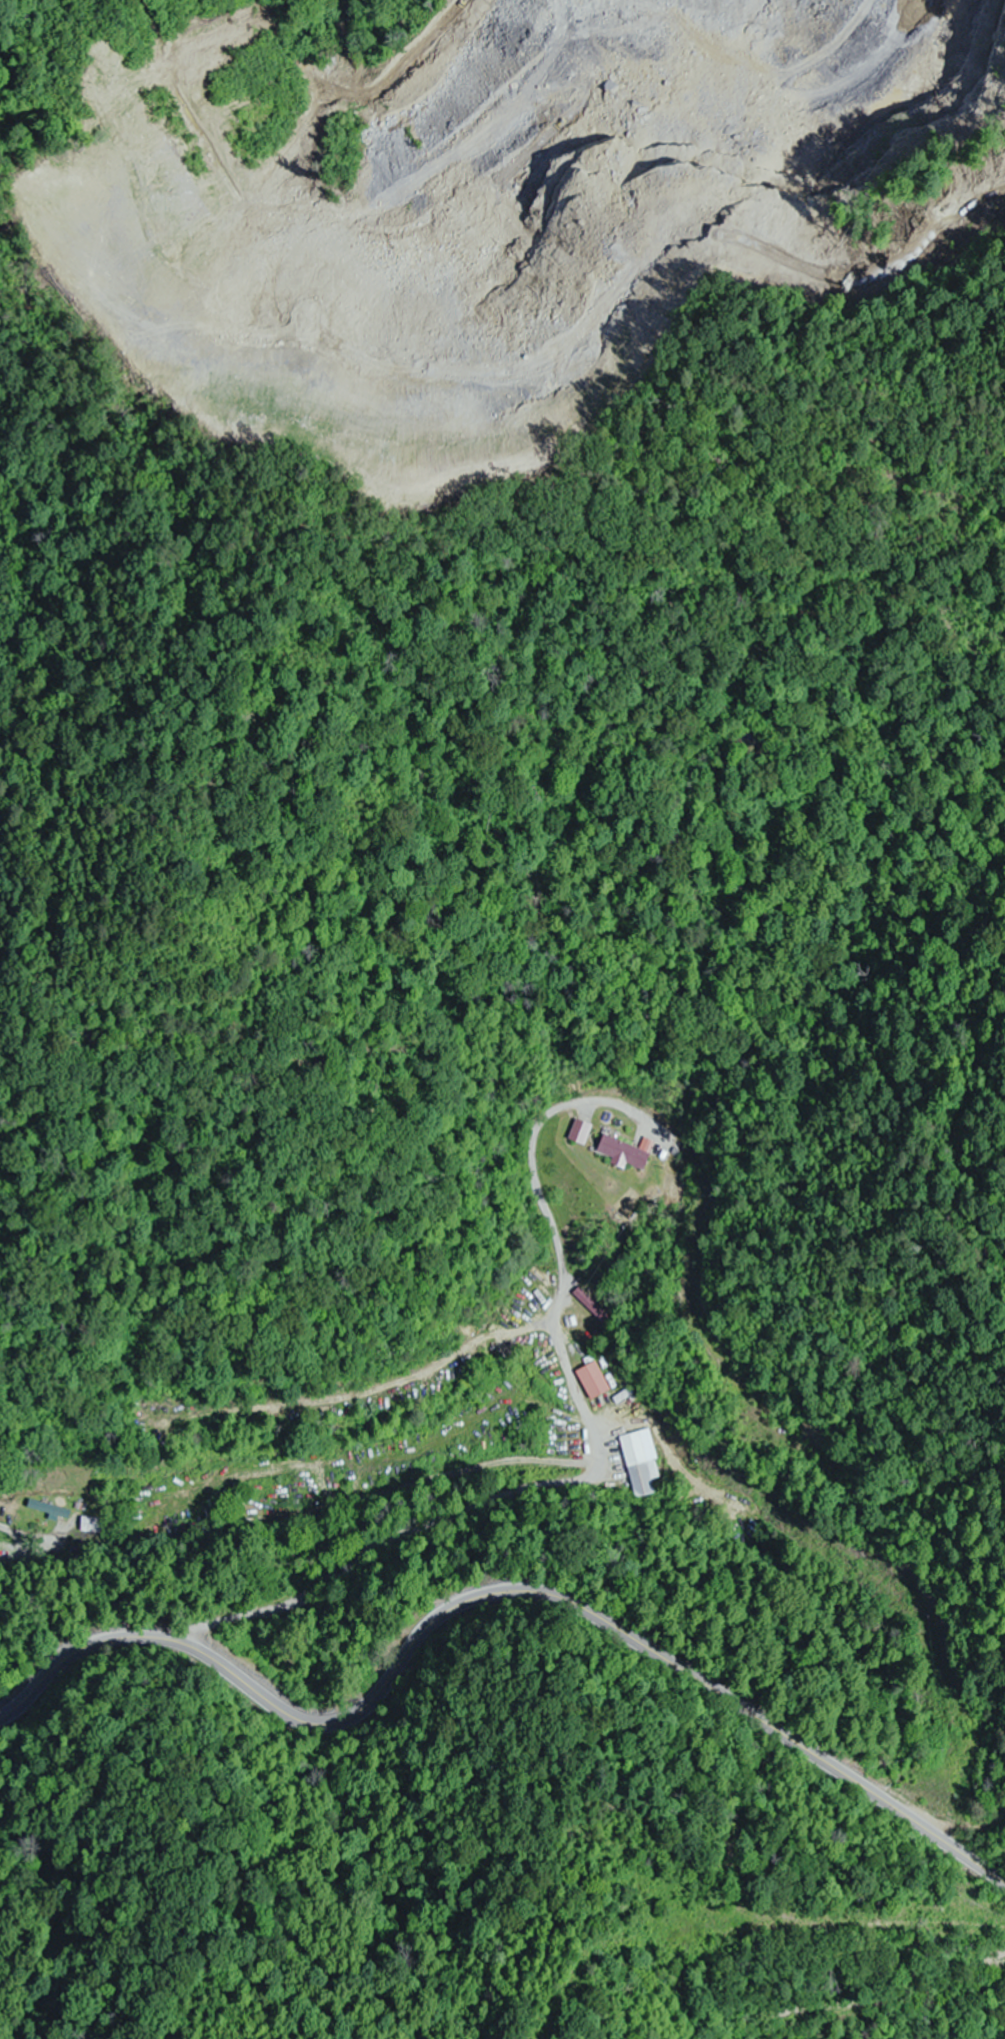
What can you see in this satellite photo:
building: (581, 1132)
building: (624, 1153)
building: (591, 1306)
building: (593, 1380)
building: (642, 1462)
building: (285, 1501)
building: (49, 1509)
building: (91, 1525)
road: (494, 1595)

